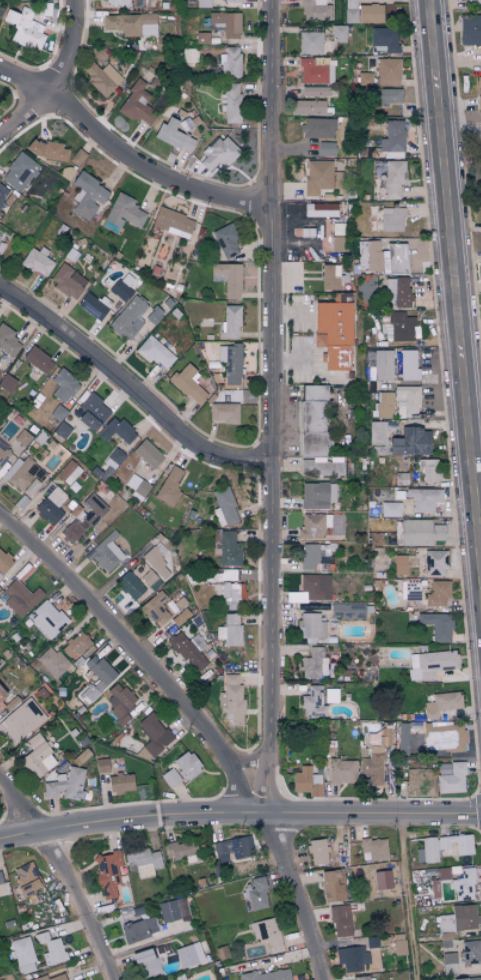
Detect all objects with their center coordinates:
building: (231, 0)
building: (473, 1)
building: (117, 2)
building: (203, 3)
building: (315, 10)
building: (350, 11)
building: (370, 13)
building: (226, 23)
building: (131, 24)
building: (28, 25)
building: (471, 29)
building: (202, 38)
building: (384, 39)
building: (310, 43)
building: (189, 55)
building: (230, 61)
building: (311, 72)
building: (388, 72)
building: (101, 77)
road: (59, 78)
building: (364, 78)
building: (479, 82)
building: (314, 91)
building: (385, 96)
building: (230, 102)
building: (478, 102)
building: (137, 105)
building: (307, 107)
road: (461, 118)
building: (317, 128)
building: (173, 136)
building: (392, 140)
building: (326, 149)
building: (47, 150)
road: (127, 155)
building: (218, 155)
building: (77, 157)
building: (19, 172)
building: (317, 176)
building: (394, 178)
building: (3, 193)
building: (87, 196)
building: (320, 210)
building: (122, 213)
building: (392, 219)
building: (172, 223)
building: (0, 226)
building: (305, 232)
building: (226, 241)
building: (338, 244)
building: (383, 257)
building: (37, 261)
road: (455, 276)
building: (330, 277)
building: (228, 278)
building: (67, 281)
building: (123, 287)
building: (398, 291)
building: (92, 307)
road: (292, 314)
building: (152, 318)
building: (128, 319)
building: (230, 322)
building: (397, 327)
building: (334, 334)
building: (7, 346)
building: (155, 354)
building: (38, 359)
road: (291, 361)
building: (230, 363)
building: (381, 366)
building: (408, 366)
building: (7, 383)
building: (188, 383)
building: (63, 386)
road: (129, 388)
building: (384, 404)
road: (270, 407)
building: (92, 412)
building: (58, 413)
building: (223, 413)
building: (117, 431)
building: (315, 432)
building: (376, 433)
building: (23, 438)
building: (410, 442)
building: (147, 454)
building: (3, 456)
building: (428, 470)
building: (68, 472)
building: (23, 475)
building: (169, 486)
building: (137, 487)
building: (317, 495)
building: (423, 498)
building: (51, 506)
building: (223, 507)
building: (390, 509)
building: (84, 518)
building: (313, 526)
building: (417, 532)
building: (228, 550)
building: (106, 553)
building: (309, 557)
building: (4, 562)
building: (435, 562)
building: (400, 565)
building: (154, 569)
building: (129, 585)
building: (315, 586)
building: (412, 590)
building: (437, 593)
building: (231, 594)
building: (20, 597)
building: (155, 609)
building: (350, 610)
building: (181, 617)
building: (47, 620)
building: (311, 626)
building: (437, 626)
building: (230, 630)
building: (75, 645)
building: (188, 649)
building: (52, 662)
building: (314, 664)
building: (430, 664)
building: (96, 679)
building: (331, 696)
building: (231, 698)
building: (119, 700)
building: (7, 701)
building: (313, 702)
building: (441, 704)
road: (196, 718)
building: (20, 721)
building: (154, 734)
building: (444, 737)
building: (378, 738)
building: (402, 738)
building: (37, 757)
road: (246, 762)
building: (187, 765)
building: (101, 766)
building: (373, 766)
building: (342, 771)
building: (170, 778)
building: (450, 778)
building: (307, 782)
building: (120, 783)
building: (66, 785)
road: (239, 814)
building: (443, 847)
building: (232, 849)
building: (373, 849)
building: (182, 851)
building: (318, 853)
building: (143, 863)
road: (65, 872)
building: (107, 874)
building: (442, 874)
building: (26, 880)
building: (382, 880)
building: (332, 886)
building: (463, 886)
building: (3, 888)
building: (254, 894)
road: (406, 897)
building: (173, 910)
building: (458, 919)
building: (340, 921)
building: (139, 930)
building: (267, 934)
building: (399, 947)
building: (51, 949)
building: (470, 953)
building: (23, 955)
building: (190, 956)
building: (351, 959)
building: (145, 964)
building: (449, 964)
building: (266, 975)
building: (51, 978)
building: (363, 978)
building: (168, 979)
building: (468, 979)

